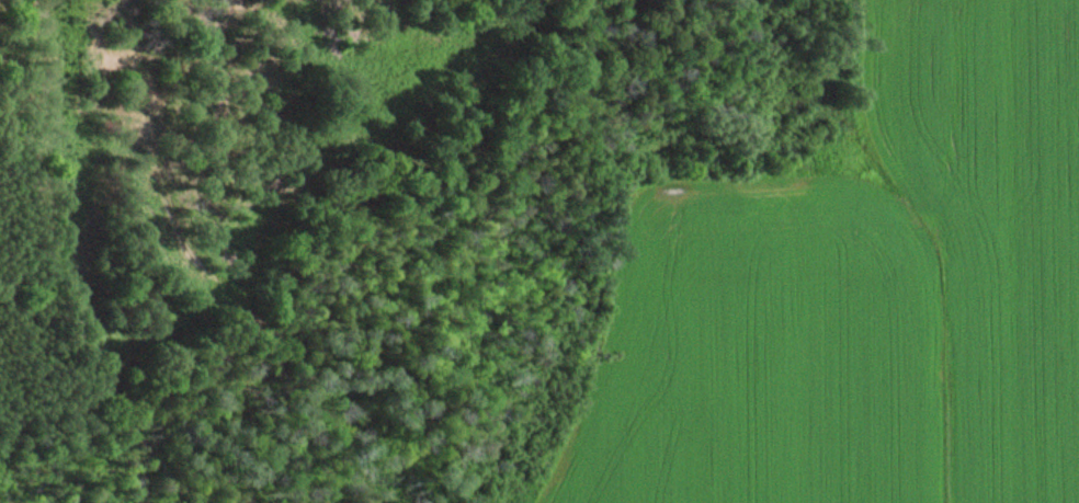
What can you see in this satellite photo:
building: (111, 124)

